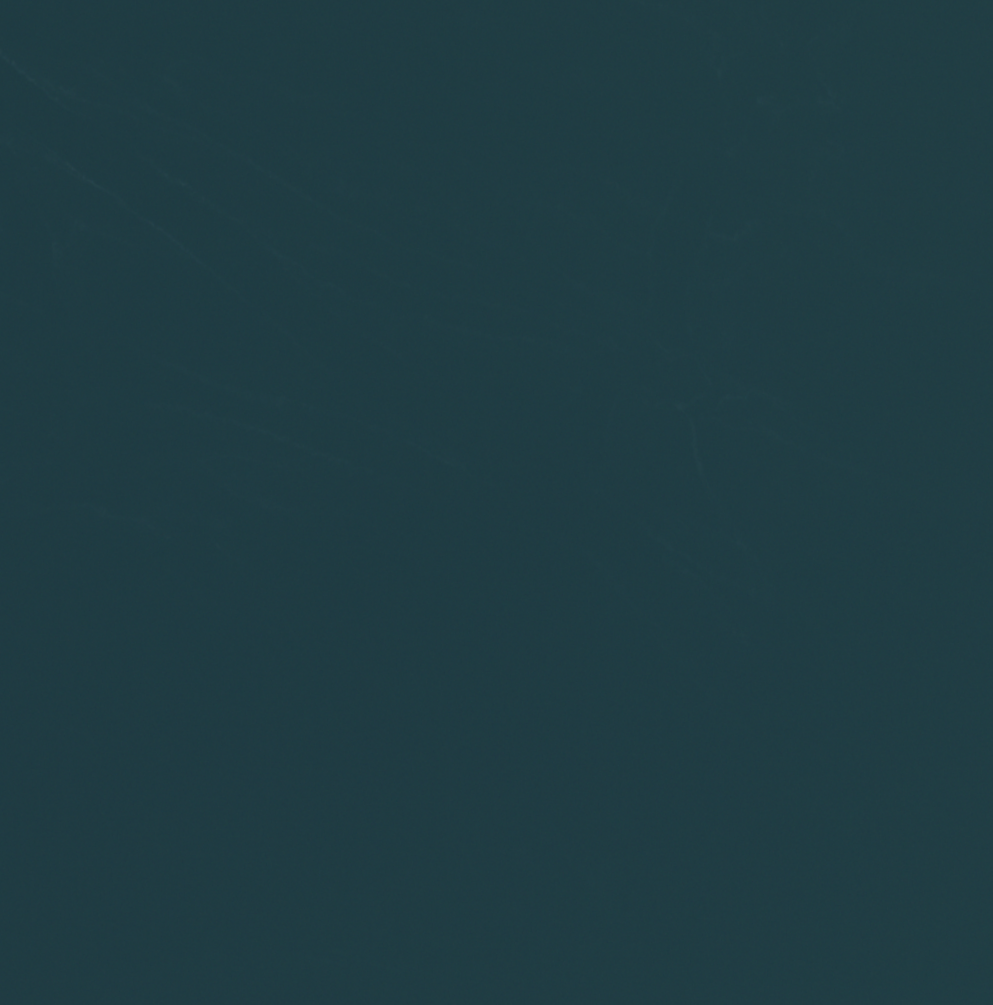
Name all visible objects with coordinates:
river: (468, 785)

